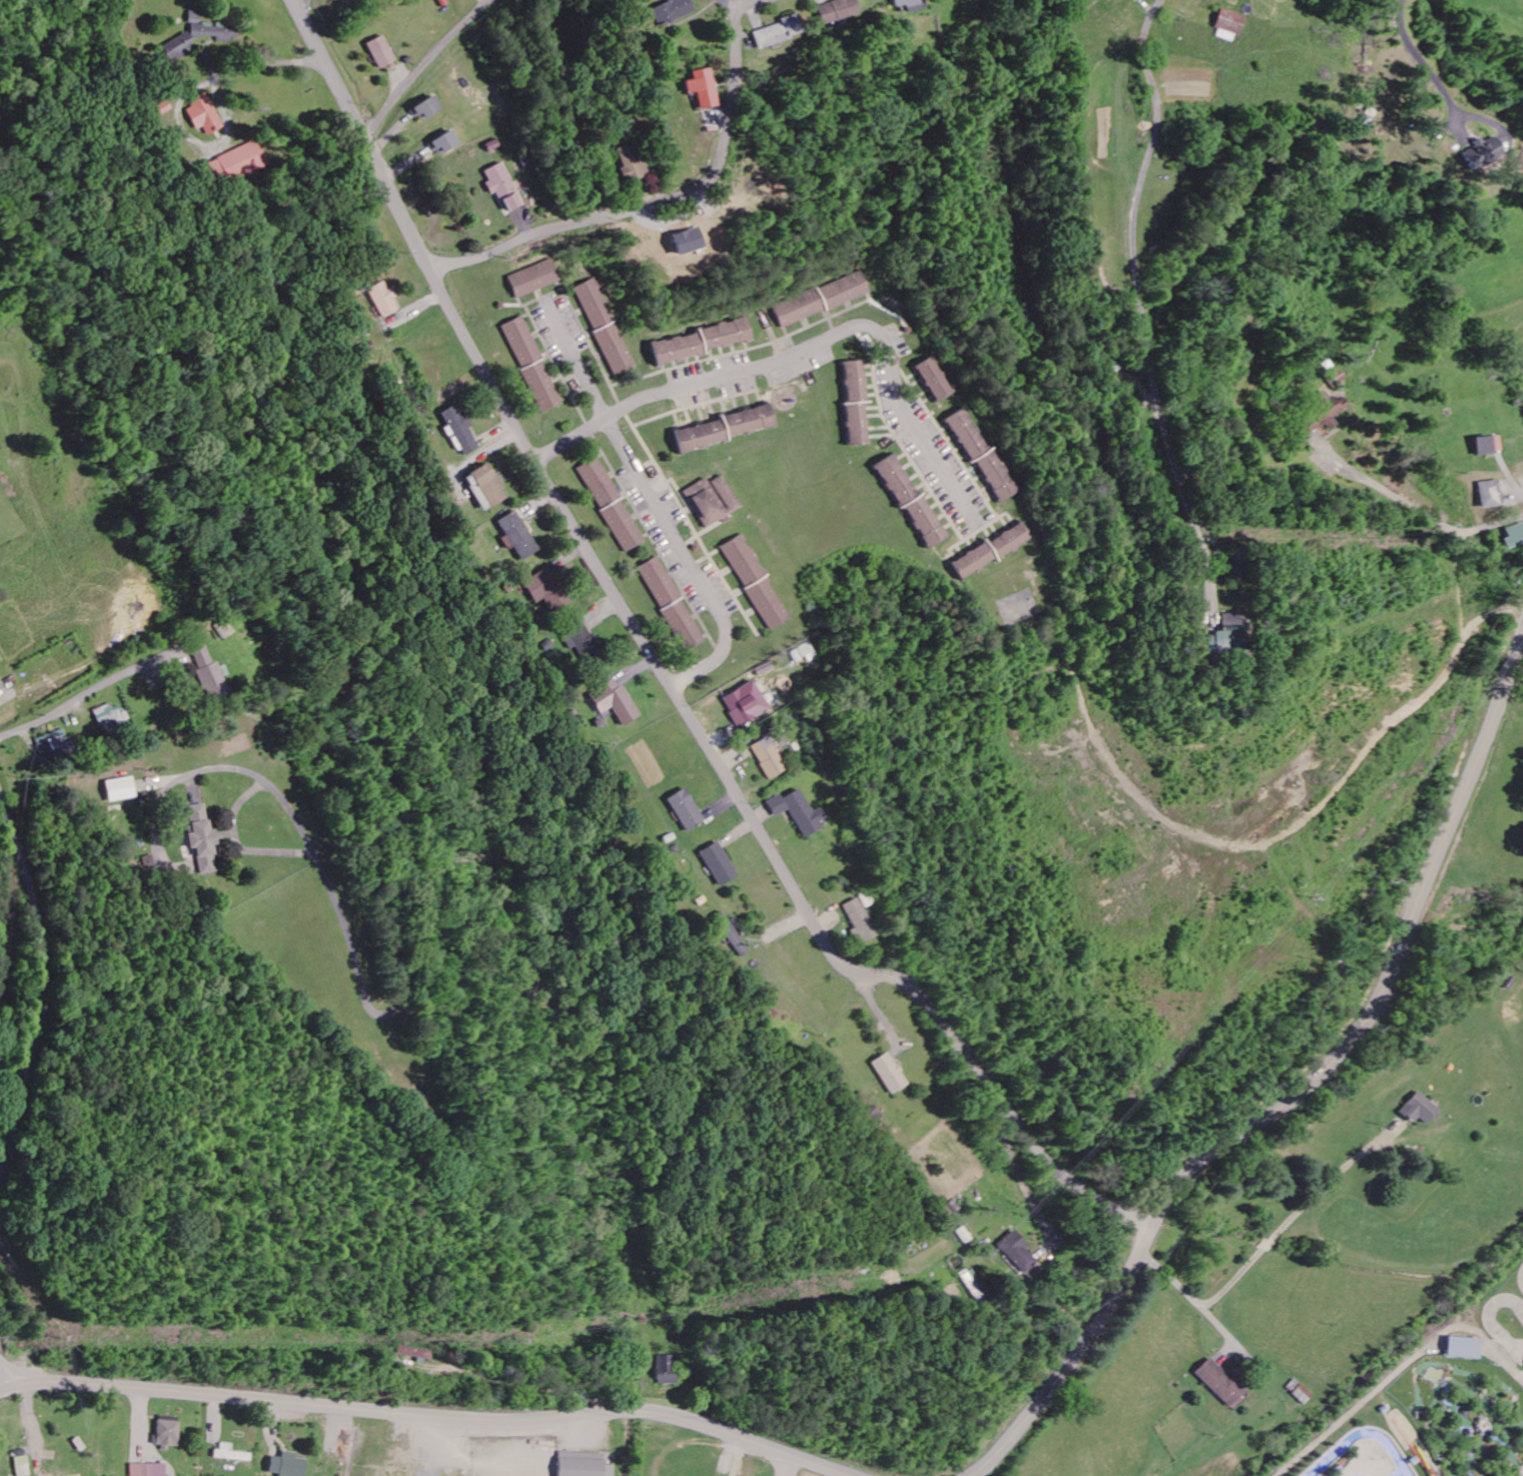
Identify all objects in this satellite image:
building: (1279, 0)
building: (905, 5)
building: (670, 11)
building: (834, 11)
building: (195, 18)
building: (1228, 26)
building: (214, 32)
building: (776, 33)
building: (178, 48)
building: (381, 53)
road: (1423, 63)
building: (702, 89)
building: (426, 110)
building: (204, 116)
building: (444, 144)
building: (1480, 154)
building: (239, 163)
building: (632, 164)
building: (503, 188)
road: (664, 201)
building: (534, 279)
building: (381, 299)
building: (822, 300)
building: (606, 326)
building: (520, 341)
building: (703, 341)
building: (936, 379)
road: (696, 385)
building: (541, 387)
road: (596, 397)
building: (855, 403)
building: (1322, 415)
building: (458, 429)
building: (1487, 444)
building: (984, 458)
building: (598, 482)
building: (483, 486)
building: (1489, 494)
building: (712, 500)
building: (909, 500)
road: (1426, 515)
building: (622, 525)
building: (515, 535)
building: (1513, 536)
building: (990, 550)
building: (743, 560)
building: (543, 589)
building: (670, 603)
building: (767, 604)
building: (224, 629)
building: (1227, 633)
building: (581, 642)
building: (808, 653)
road: (662, 670)
building: (210, 674)
road: (73, 701)
building: (612, 702)
building: (745, 704)
building: (109, 717)
building: (53, 742)
building: (767, 758)
road: (375, 759)
building: (120, 789)
building: (684, 809)
building: (798, 811)
building: (202, 839)
road: (237, 842)
building: (717, 864)
building: (860, 921)
road: (43, 995)
building: (890, 1073)
road: (1298, 1092)
building: (1420, 1109)
road: (1268, 1247)
building: (1013, 1251)
building: (971, 1285)
road: (1226, 1331)
building: (1460, 1344)
building: (668, 1370)
road: (6, 1375)
building: (1222, 1384)
water park: (1435, 1401)
building: (1382, 1407)
road: (429, 1416)
building: (170, 1435)
building: (232, 1454)
building: (1410, 1458)
building: (288, 1465)
building: (583, 1465)
building: (23, 1466)
building: (1337, 1466)
building: (150, 1470)
building: (56, 1475)
building: (1522, 1475)

